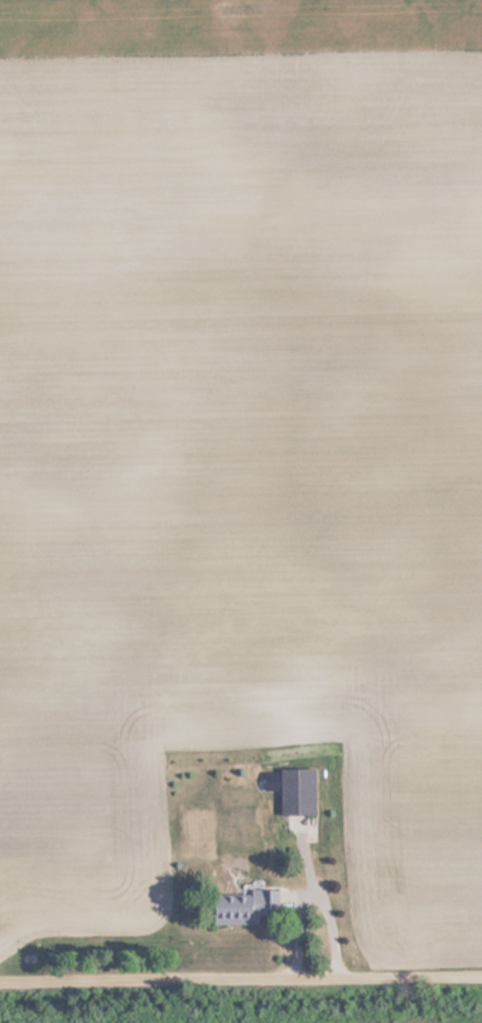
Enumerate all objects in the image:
building: (293, 790)
building: (243, 907)
road: (241, 982)

